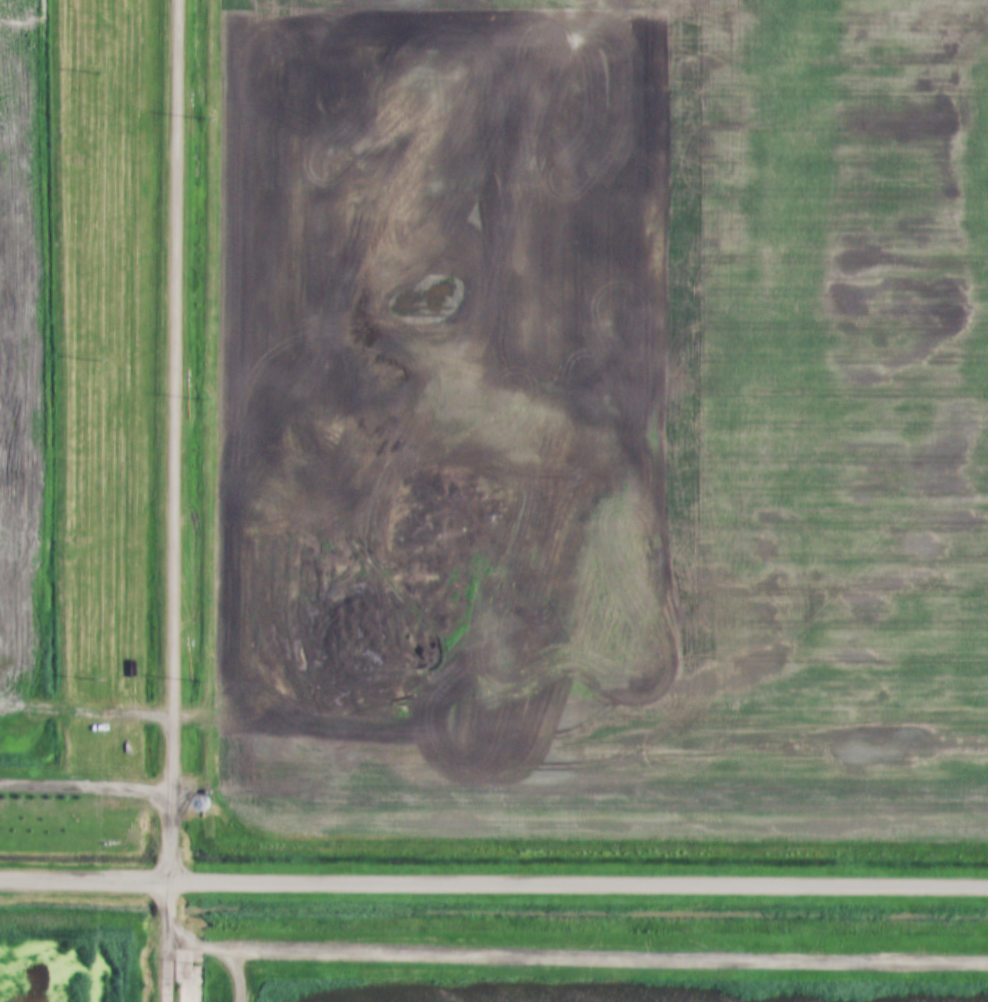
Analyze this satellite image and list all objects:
crop: (30, 366)
road: (175, 501)
road: (493, 886)

